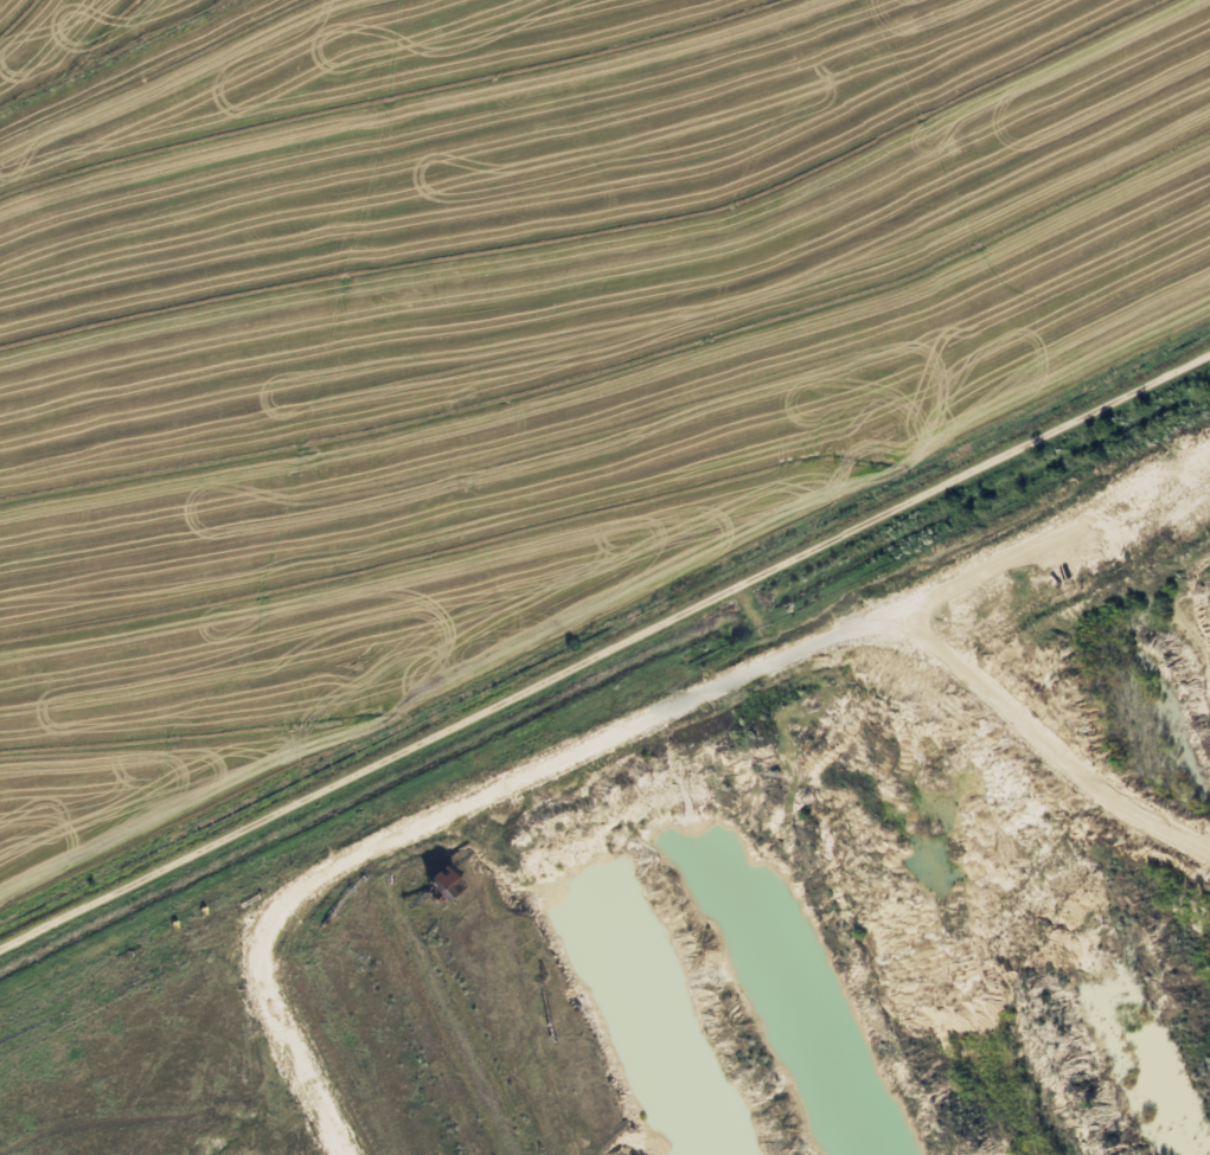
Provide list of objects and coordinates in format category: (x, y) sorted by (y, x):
road: (607, 663)
road: (881, 875)

